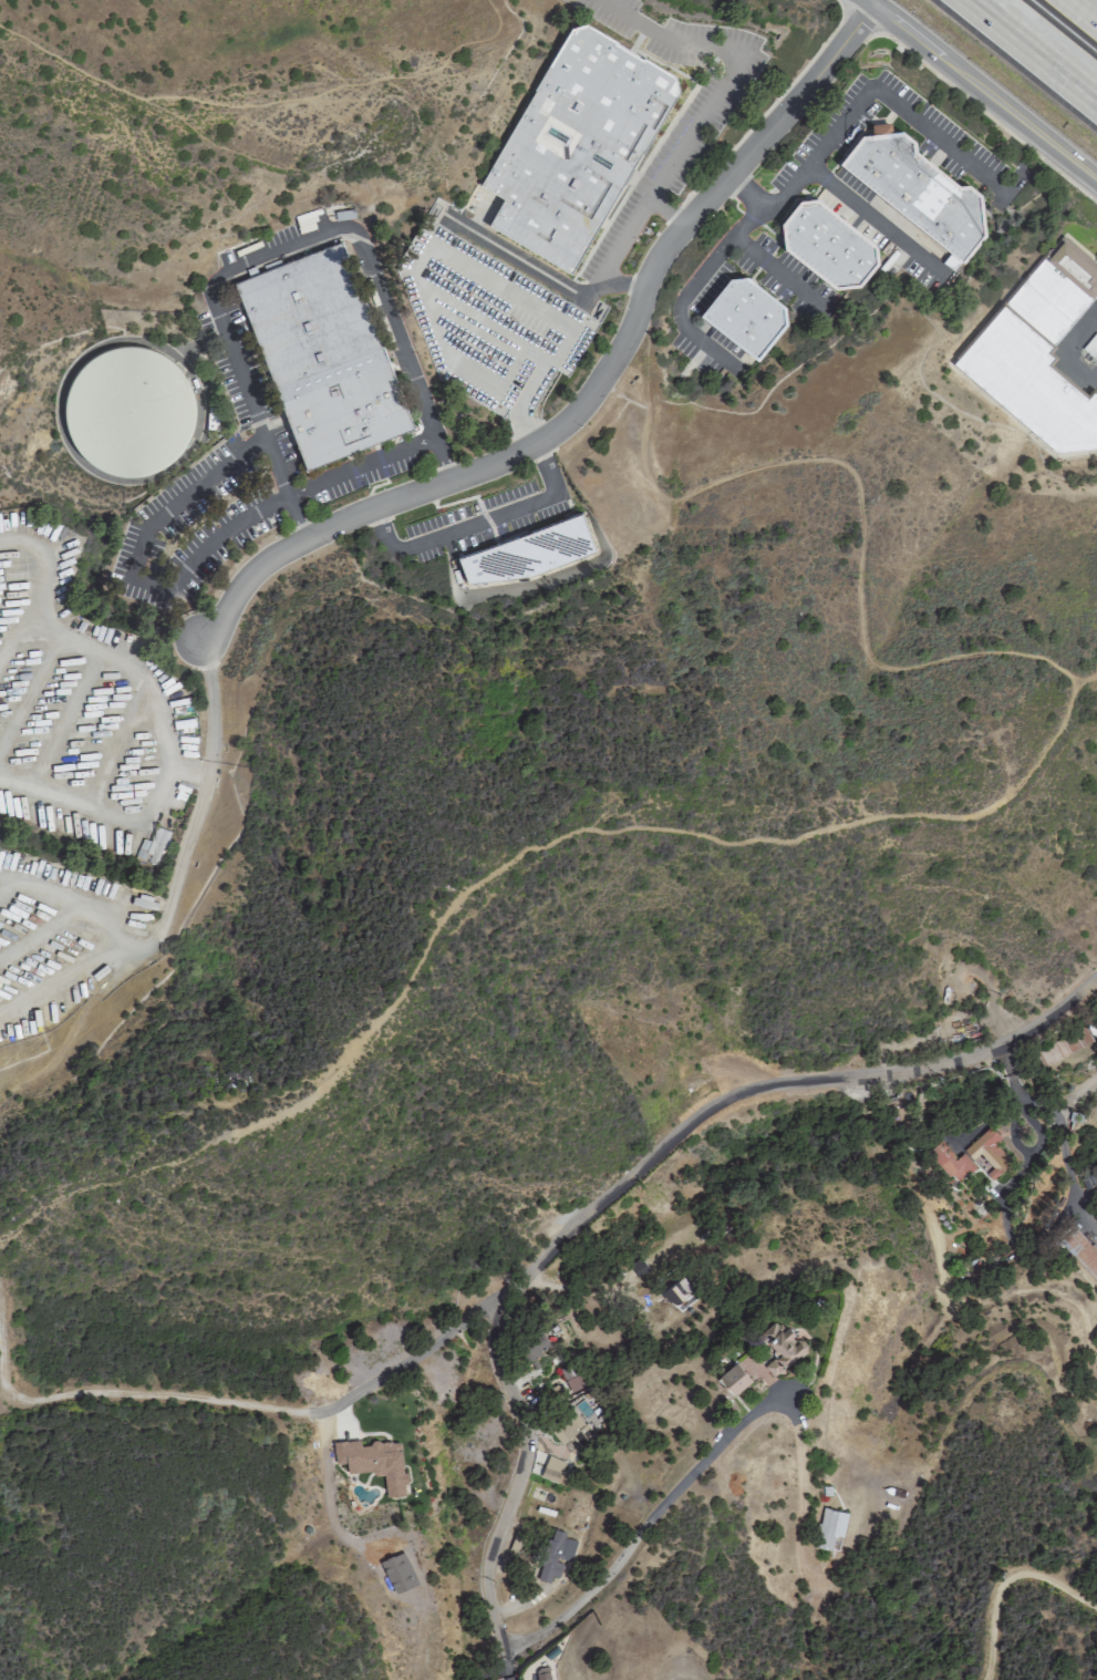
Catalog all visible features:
road: (1087, 7)
road: (1035, 49)
road: (723, 82)
road: (982, 90)
road: (261, 104)
road: (856, 105)
building: (576, 145)
building: (918, 188)
road: (871, 220)
building: (828, 244)
road: (360, 247)
road: (611, 260)
road: (525, 264)
road: (778, 272)
road: (691, 287)
building: (745, 313)
building: (1038, 351)
building: (322, 354)
road: (594, 389)
road: (249, 398)
building: (126, 411)
storage tank: (126, 411)
road: (437, 450)
road: (360, 465)
road: (297, 516)
road: (477, 522)
building: (525, 553)
road: (45, 561)
road: (131, 570)
road: (15, 646)
road: (133, 666)
road: (1084, 683)
road: (32, 699)
road: (68, 722)
road: (115, 746)
road: (185, 773)
parking lot: (91, 792)
road: (96, 815)
road: (192, 817)
road: (876, 820)
building: (154, 845)
road: (6, 887)
road: (42, 930)
road: (108, 932)
building: (1063, 1047)
road: (774, 1088)
building: (987, 1151)
building: (950, 1161)
building: (1079, 1251)
building: (639, 1267)
road: (582, 1290)
building: (676, 1290)
building: (532, 1346)
building: (780, 1346)
road: (413, 1359)
building: (572, 1377)
building: (733, 1378)
road: (151, 1398)
building: (572, 1430)
building: (373, 1461)
building: (552, 1470)
road: (325, 1481)
road: (908, 1511)
building: (829, 1527)
building: (553, 1558)
building: (399, 1570)
road: (1005, 1580)
road: (509, 1647)
road: (679, 1669)
building: (541, 1672)

